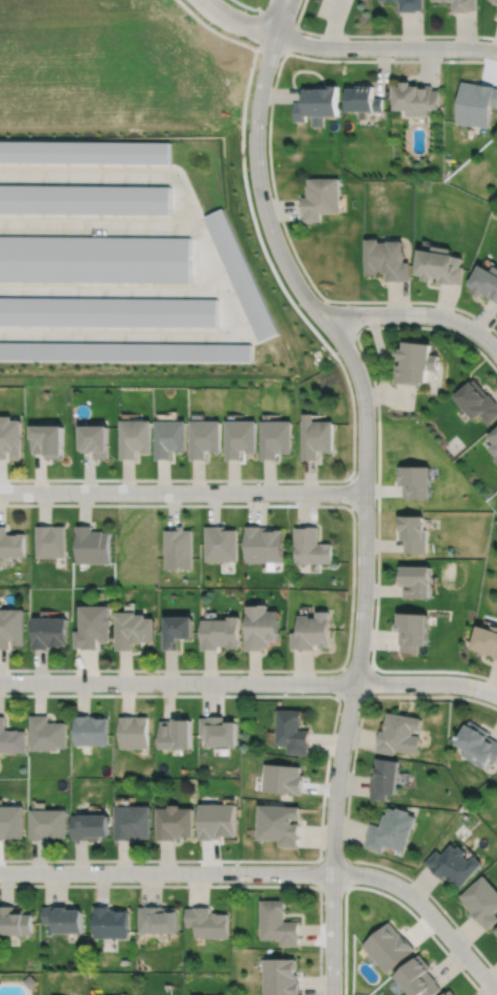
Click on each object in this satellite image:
building: (496, 0)
building: (410, 4)
building: (464, 4)
parking lot: (334, 9)
road: (300, 12)
building: (496, 14)
road: (277, 17)
road: (283, 17)
park: (334, 19)
road: (334, 23)
road: (394, 35)
road: (290, 40)
road: (345, 48)
building: (416, 98)
building: (363, 99)
building: (316, 102)
building: (476, 103)
building: (86, 150)
road: (270, 164)
building: (319, 197)
building: (85, 198)
building: (95, 258)
building: (386, 259)
building: (439, 264)
building: (242, 274)
building: (485, 281)
road: (291, 301)
road: (417, 314)
road: (340, 317)
building: (89, 325)
building: (414, 363)
building: (477, 402)
building: (133, 437)
building: (316, 437)
building: (10, 438)
building: (168, 438)
building: (203, 438)
building: (239, 438)
building: (275, 438)
building: (95, 440)
building: (48, 441)
building: (494, 443)
road: (178, 479)
building: (414, 481)
road: (378, 483)
road: (182, 492)
road: (352, 493)
road: (365, 500)
road: (19, 504)
building: (413, 534)
building: (50, 542)
building: (11, 544)
building: (220, 544)
building: (262, 545)
building: (92, 546)
building: (310, 547)
building: (177, 549)
building: (415, 583)
road: (351, 603)
building: (93, 627)
building: (11, 628)
building: (260, 628)
building: (133, 631)
building: (411, 632)
building: (49, 633)
building: (176, 633)
building: (312, 633)
building: (220, 634)
building: (486, 642)
road: (357, 668)
road: (341, 681)
road: (369, 681)
road: (249, 683)
road: (352, 695)
building: (92, 731)
building: (399, 732)
building: (133, 733)
building: (219, 733)
building: (292, 733)
building: (47, 735)
building: (176, 736)
building: (11, 739)
building: (477, 742)
road: (326, 769)
building: (384, 776)
building: (282, 780)
road: (346, 807)
building: (218, 819)
building: (12, 820)
building: (134, 821)
building: (176, 821)
building: (49, 822)
building: (280, 823)
building: (92, 824)
building: (391, 829)
road: (345, 859)
building: (454, 863)
road: (272, 873)
road: (214, 885)
road: (381, 892)
building: (482, 901)
building: (64, 918)
building: (158, 918)
building: (16, 920)
building: (207, 921)
building: (110, 922)
building: (278, 922)
building: (496, 930)
building: (389, 946)
building: (281, 976)
building: (419, 977)
building: (30, 981)
building: (450, 993)

